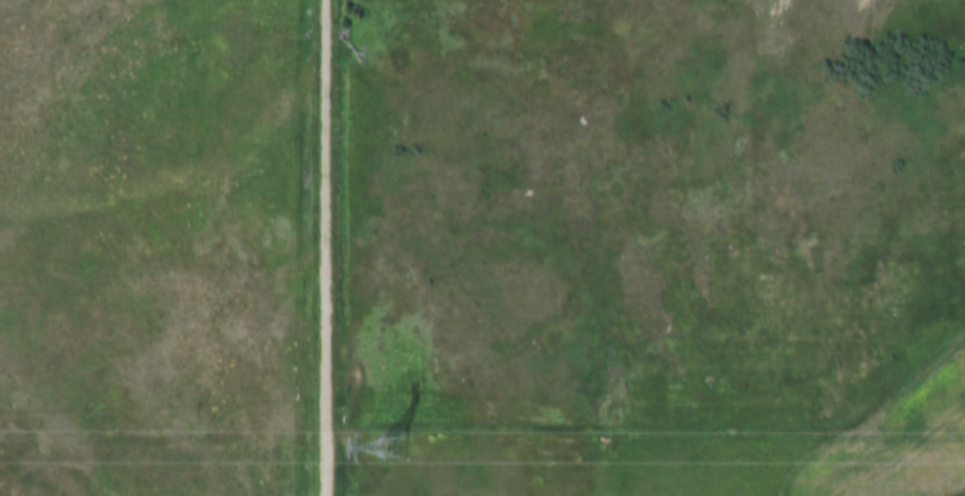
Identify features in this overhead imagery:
road: (326, 248)
power tower: (389, 446)

